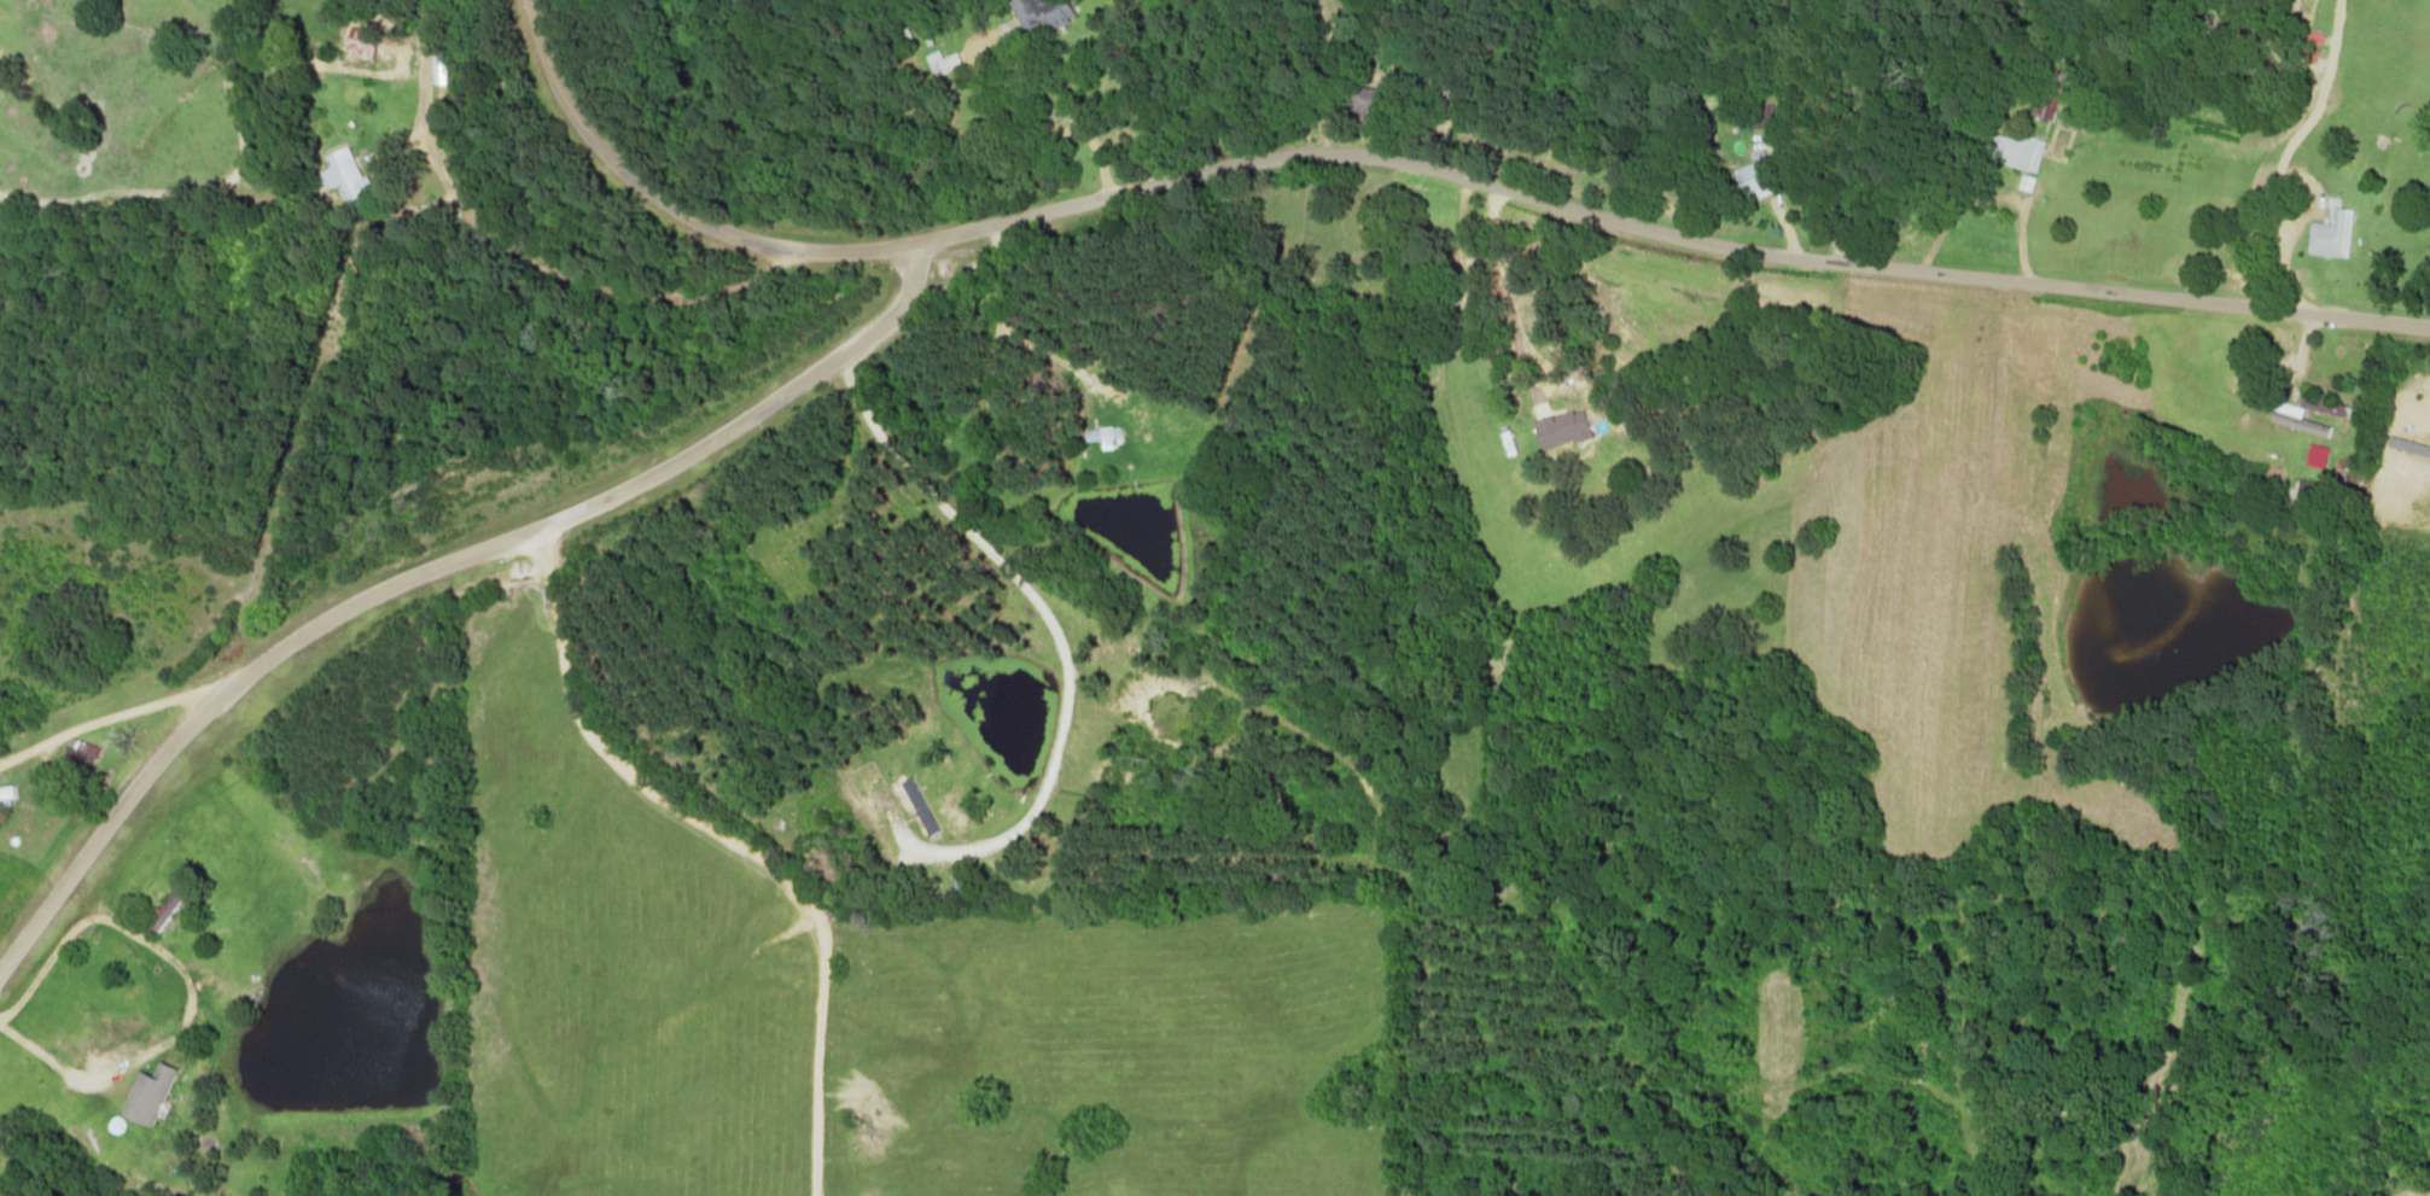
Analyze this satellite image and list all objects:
building: (1048, 13)
building: (368, 43)
building: (948, 63)
building: (445, 70)
building: (1380, 100)
building: (2020, 151)
building: (349, 176)
building: (1765, 176)
building: (2030, 182)
road: (668, 200)
road: (1665, 228)
building: (2338, 235)
building: (2304, 418)
building: (1569, 430)
building: (1111, 432)
building: (2324, 456)
road: (433, 568)
building: (8, 790)
building: (926, 805)
road: (736, 840)
building: (155, 1092)

